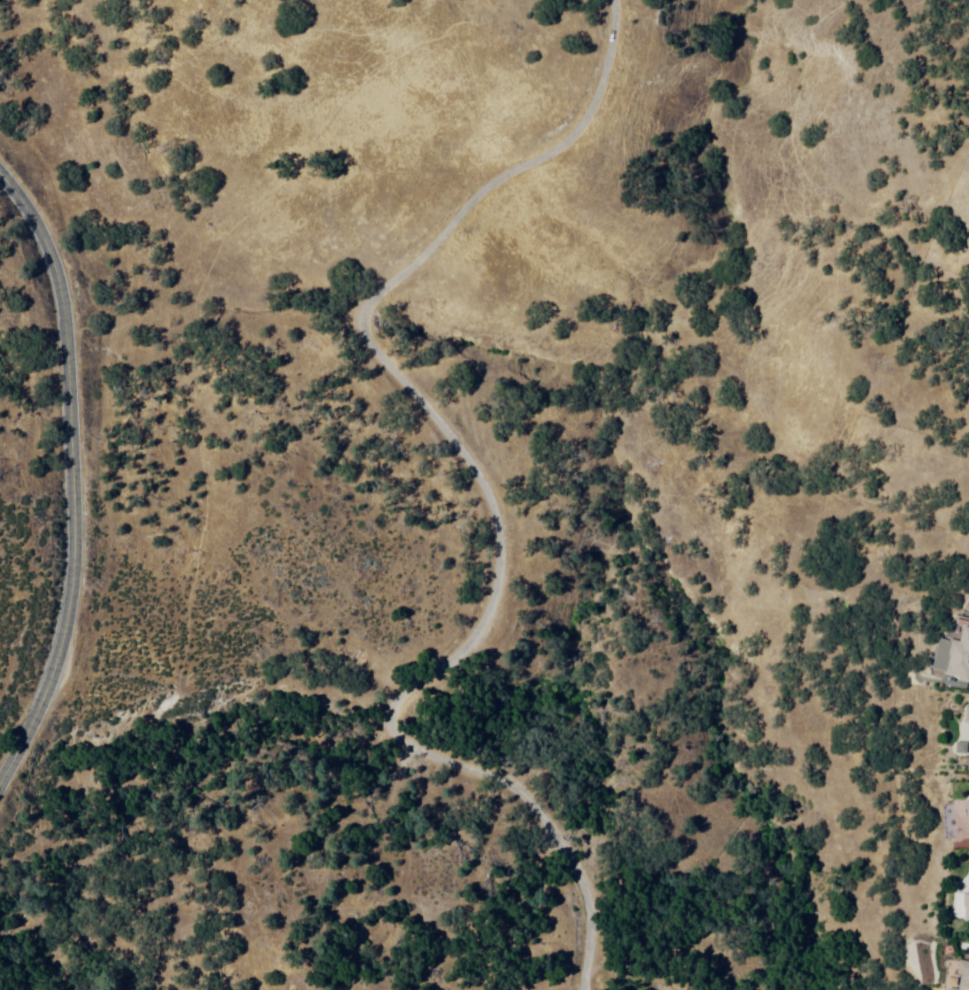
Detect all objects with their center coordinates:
road: (74, 473)
road: (488, 488)
building: (961, 660)
building: (963, 749)
building: (964, 820)
building: (968, 909)
building: (965, 975)
building: (951, 989)

